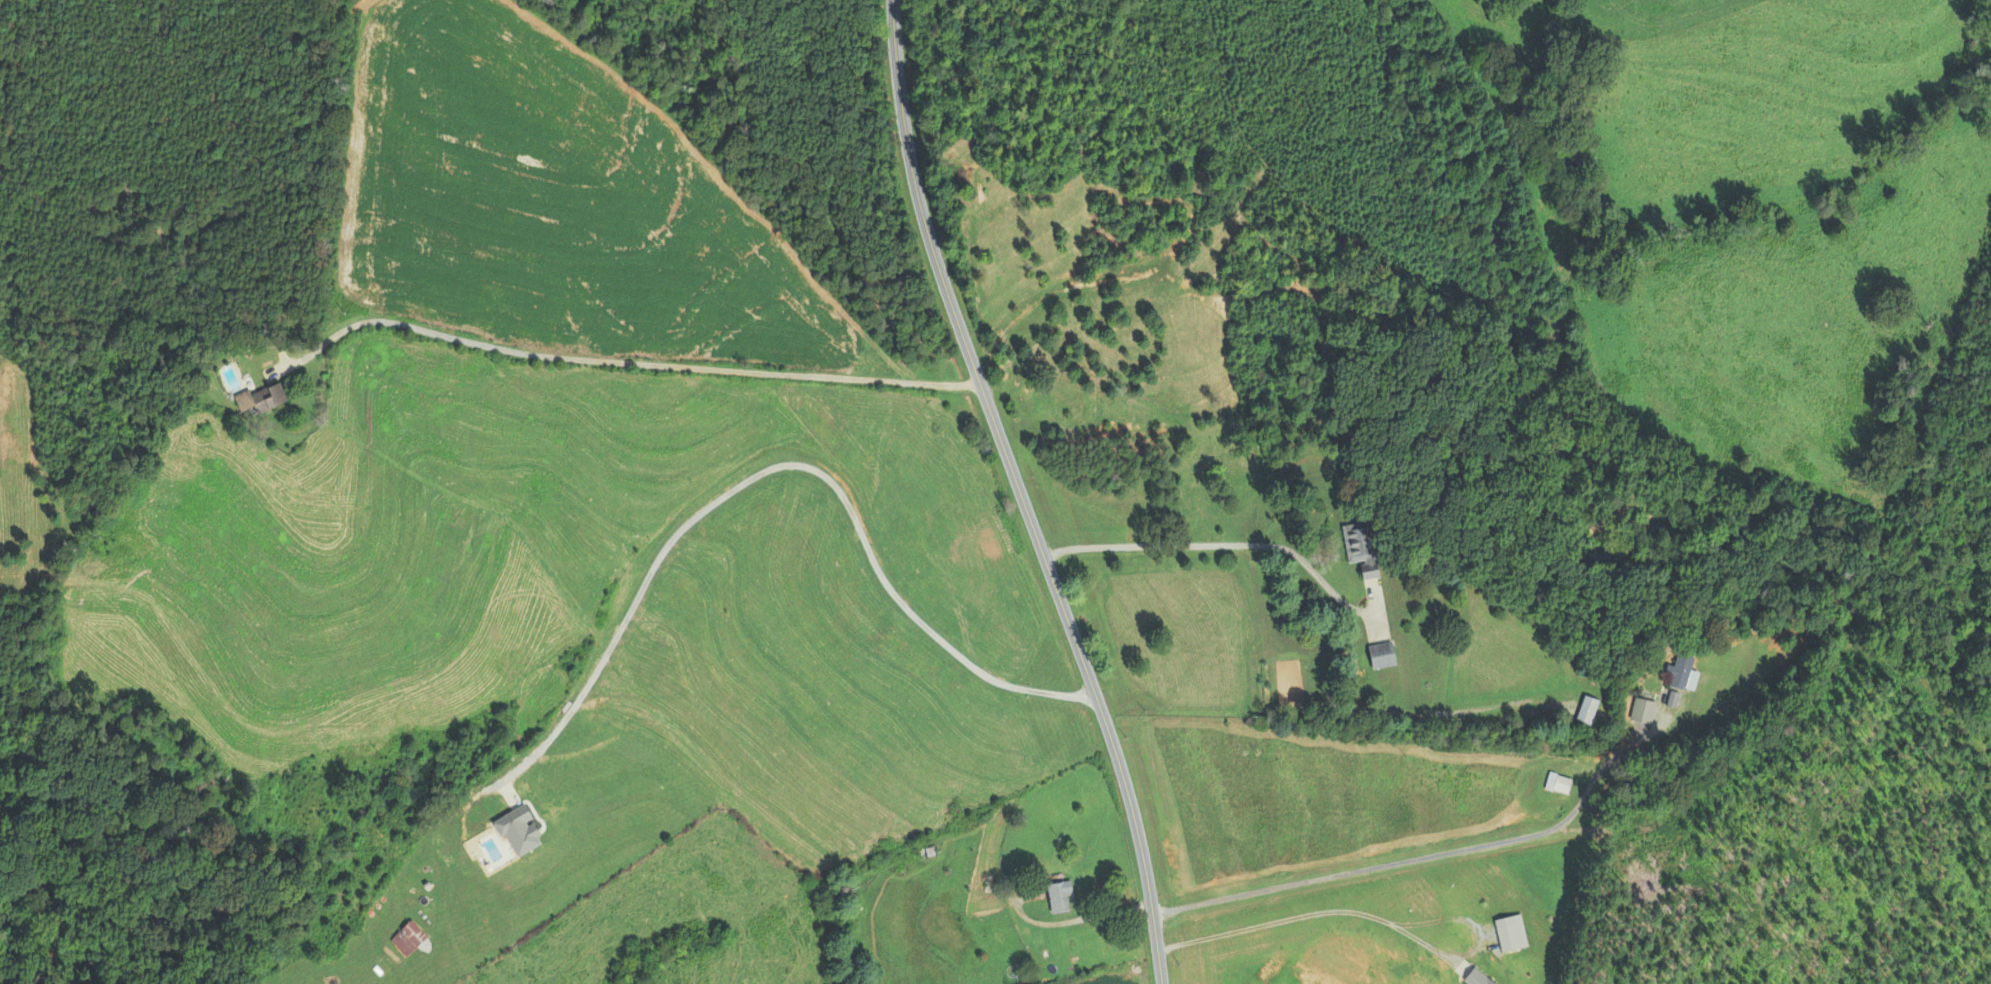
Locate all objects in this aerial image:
road: (620, 361)
building: (256, 399)
road: (747, 481)
road: (1019, 493)
road: (1221, 544)
building: (1362, 548)
building: (1380, 655)
building: (1683, 673)
building: (1587, 710)
building: (1642, 711)
building: (1558, 783)
road: (1430, 856)
building: (418, 891)
building: (1058, 896)
road: (1304, 920)
building: (406, 938)

